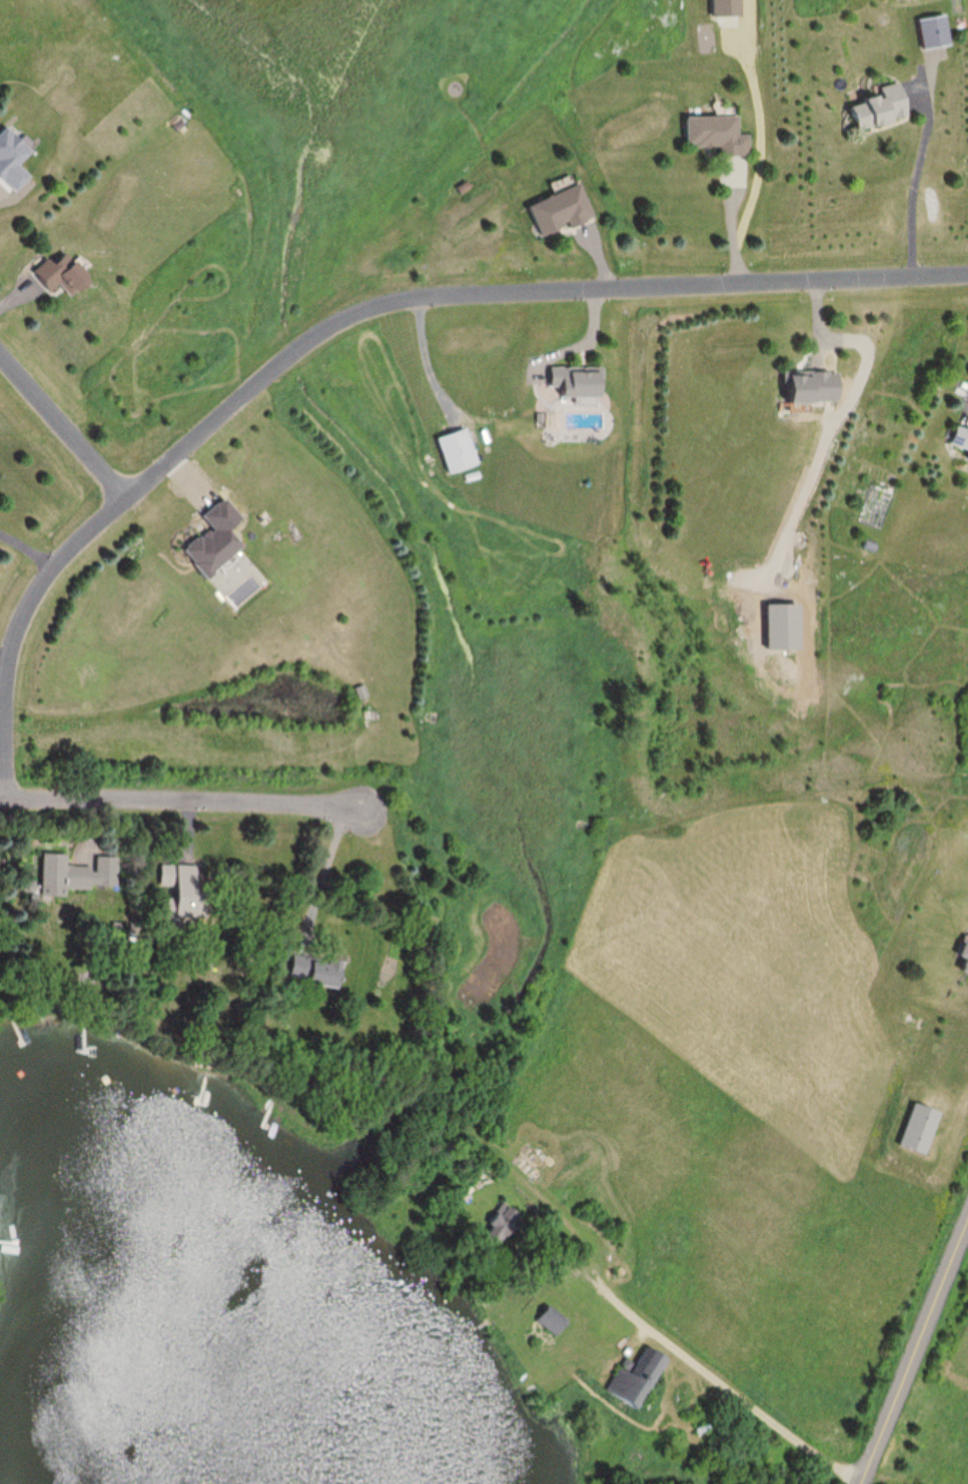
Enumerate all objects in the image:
building: (881, 107)
building: (720, 133)
building: (14, 161)
road: (913, 186)
building: (562, 210)
road: (732, 225)
building: (59, 275)
road: (346, 315)
building: (579, 380)
building: (815, 386)
road: (63, 423)
building: (961, 437)
building: (460, 450)
building: (218, 537)
road: (29, 548)
road: (6, 657)
building: (365, 692)
road: (181, 803)
building: (64, 874)
road: (324, 876)
building: (187, 889)
building: (965, 956)
building: (317, 970)
building: (921, 1127)
building: (504, 1223)
road: (562, 1253)
road: (601, 1264)
building: (555, 1320)
road: (914, 1352)
building: (638, 1377)
park: (936, 1405)
road: (759, 1411)

